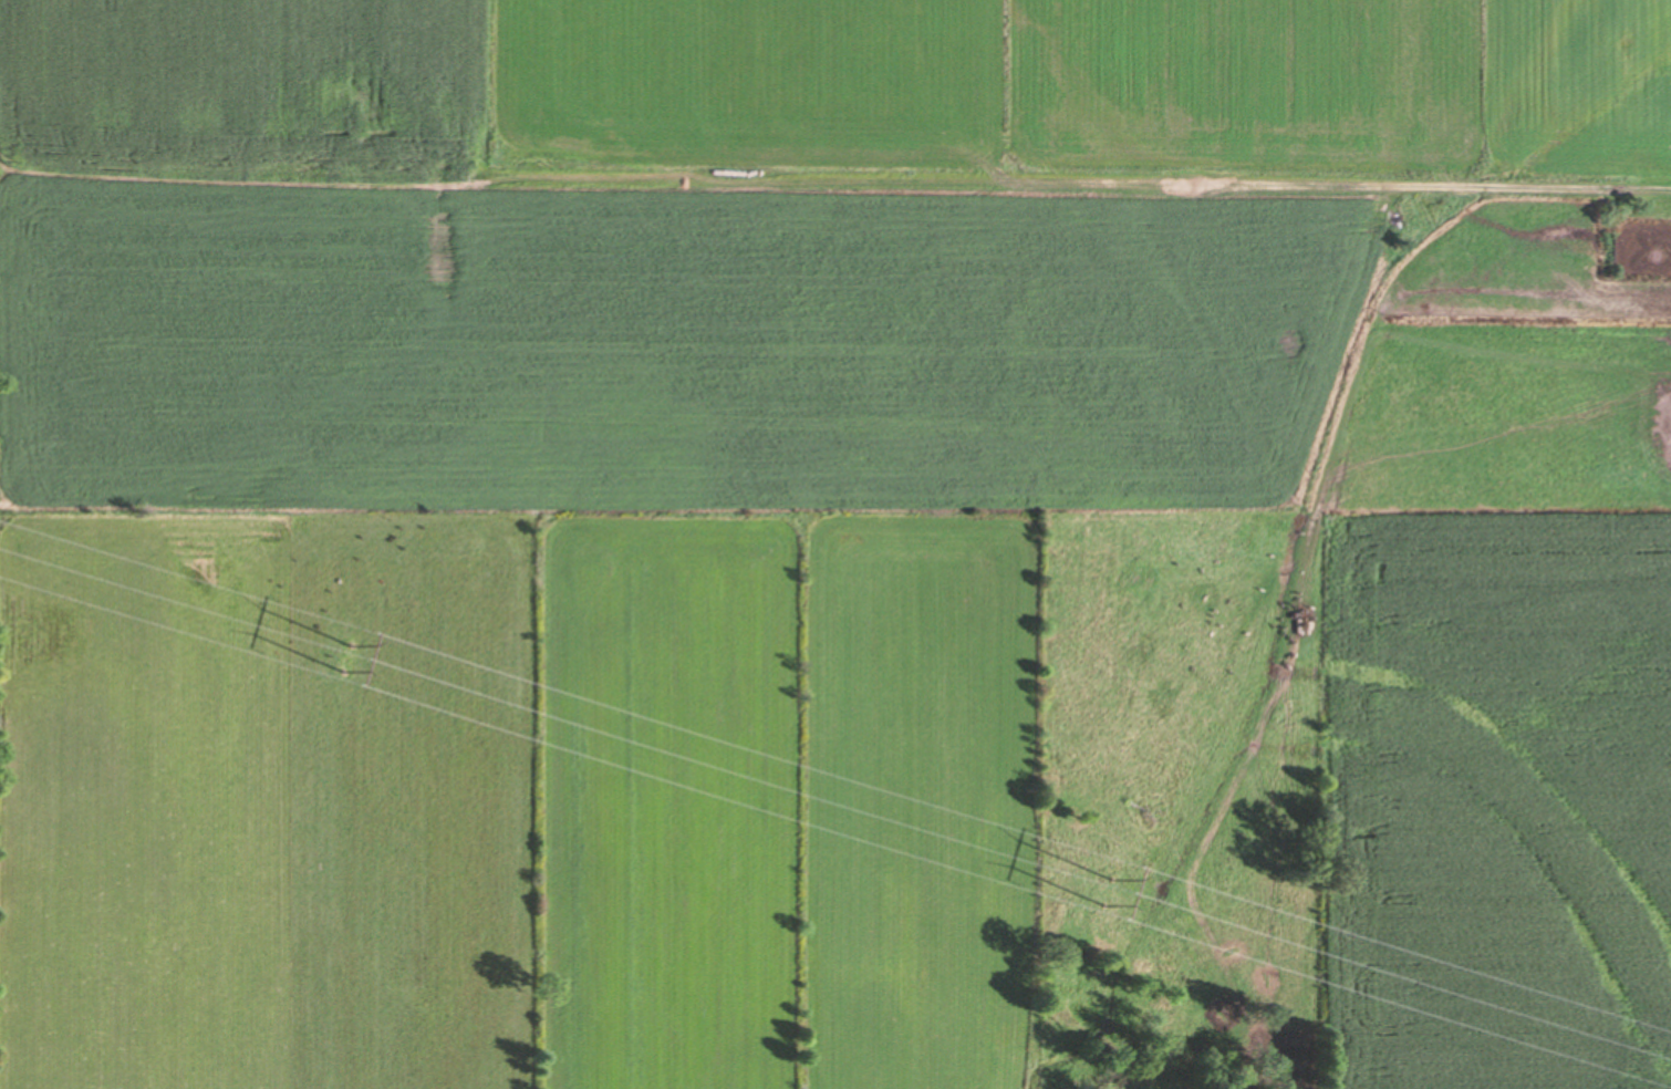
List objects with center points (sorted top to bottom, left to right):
power tower: (349, 657)
power tower: (1109, 890)

